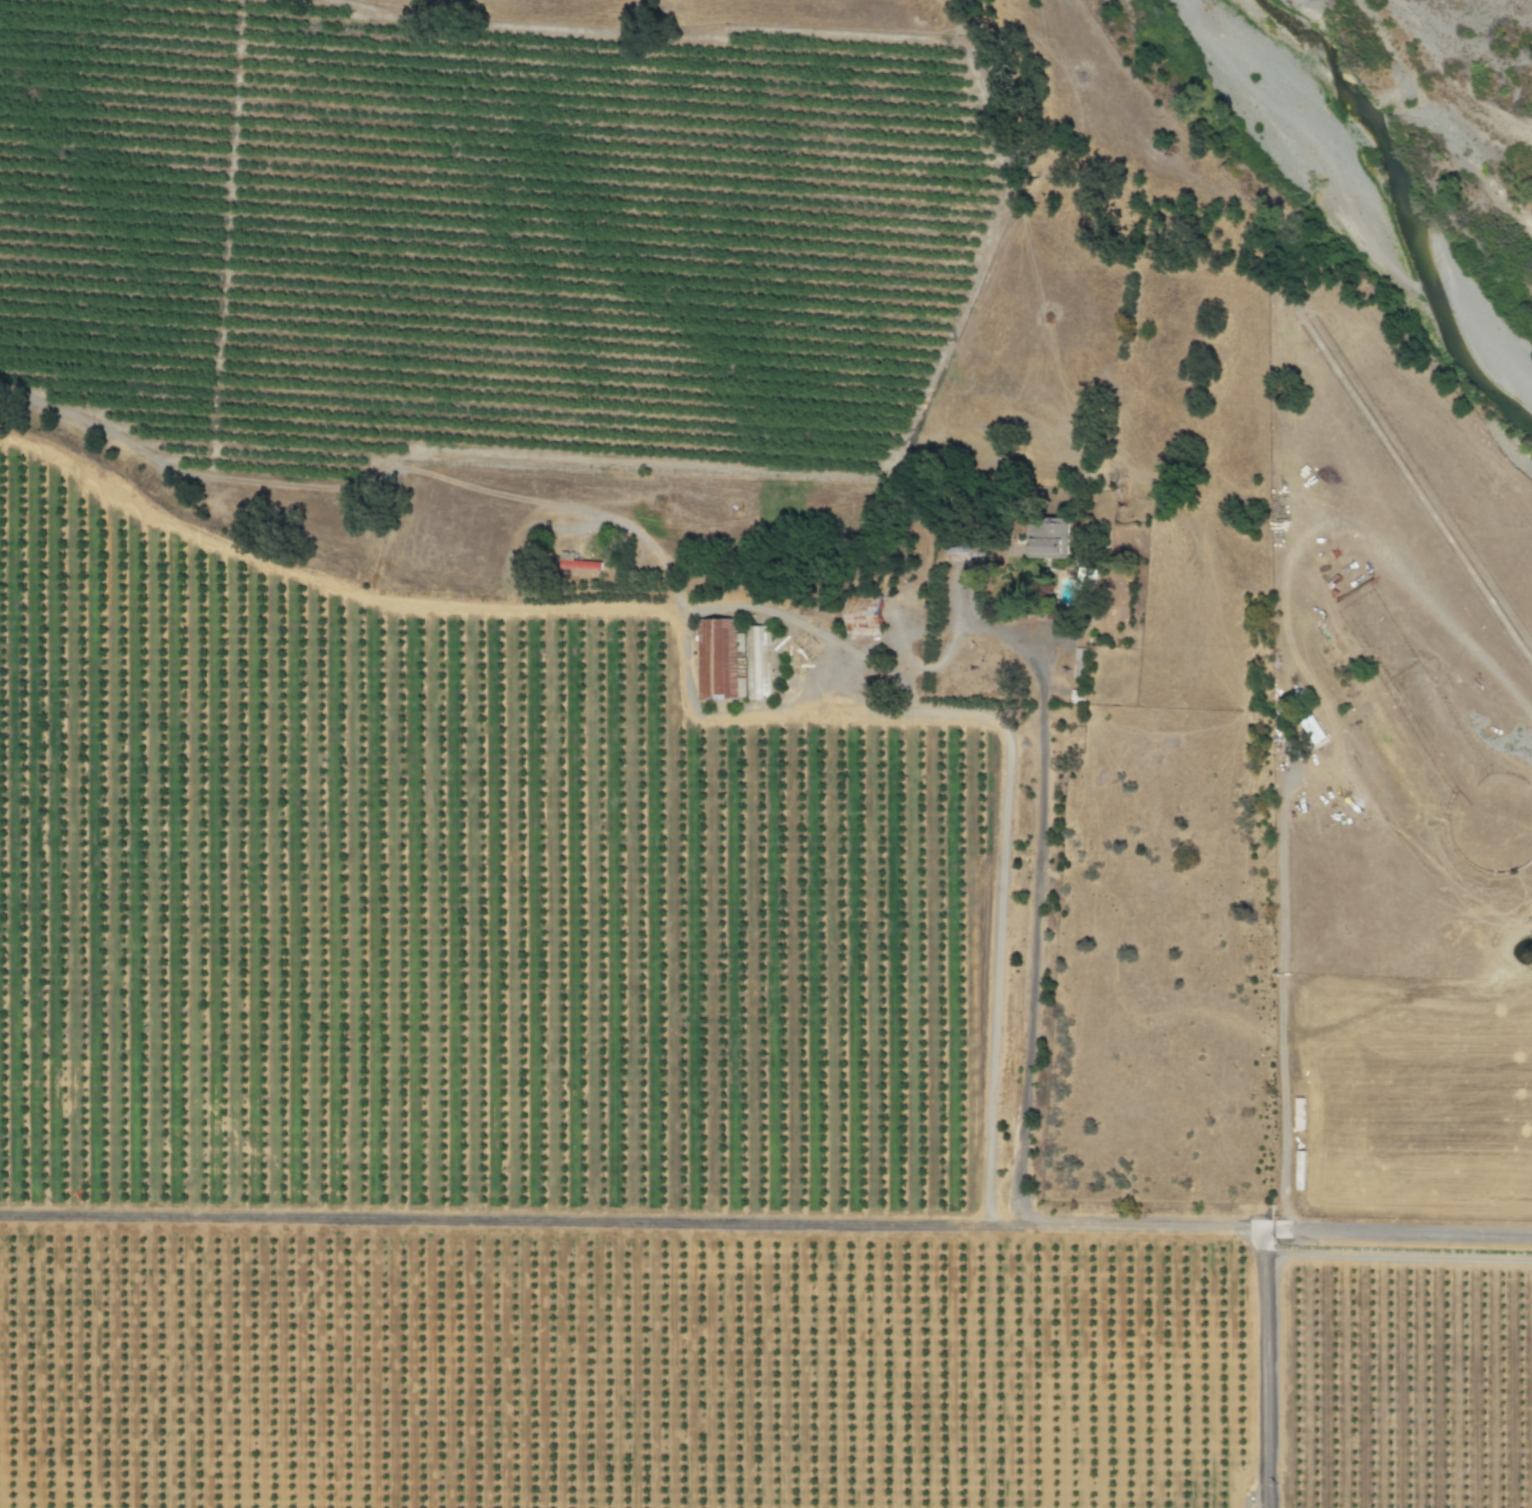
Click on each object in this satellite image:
river: (1401, 206)
building: (1045, 539)
building: (578, 565)
building: (860, 614)
building: (717, 659)
building: (754, 662)
building: (1076, 697)
road: (933, 712)
building: (1310, 730)
road: (1036, 847)
road: (1281, 1002)
road: (494, 1220)
road: (1141, 1227)
road: (1413, 1233)

